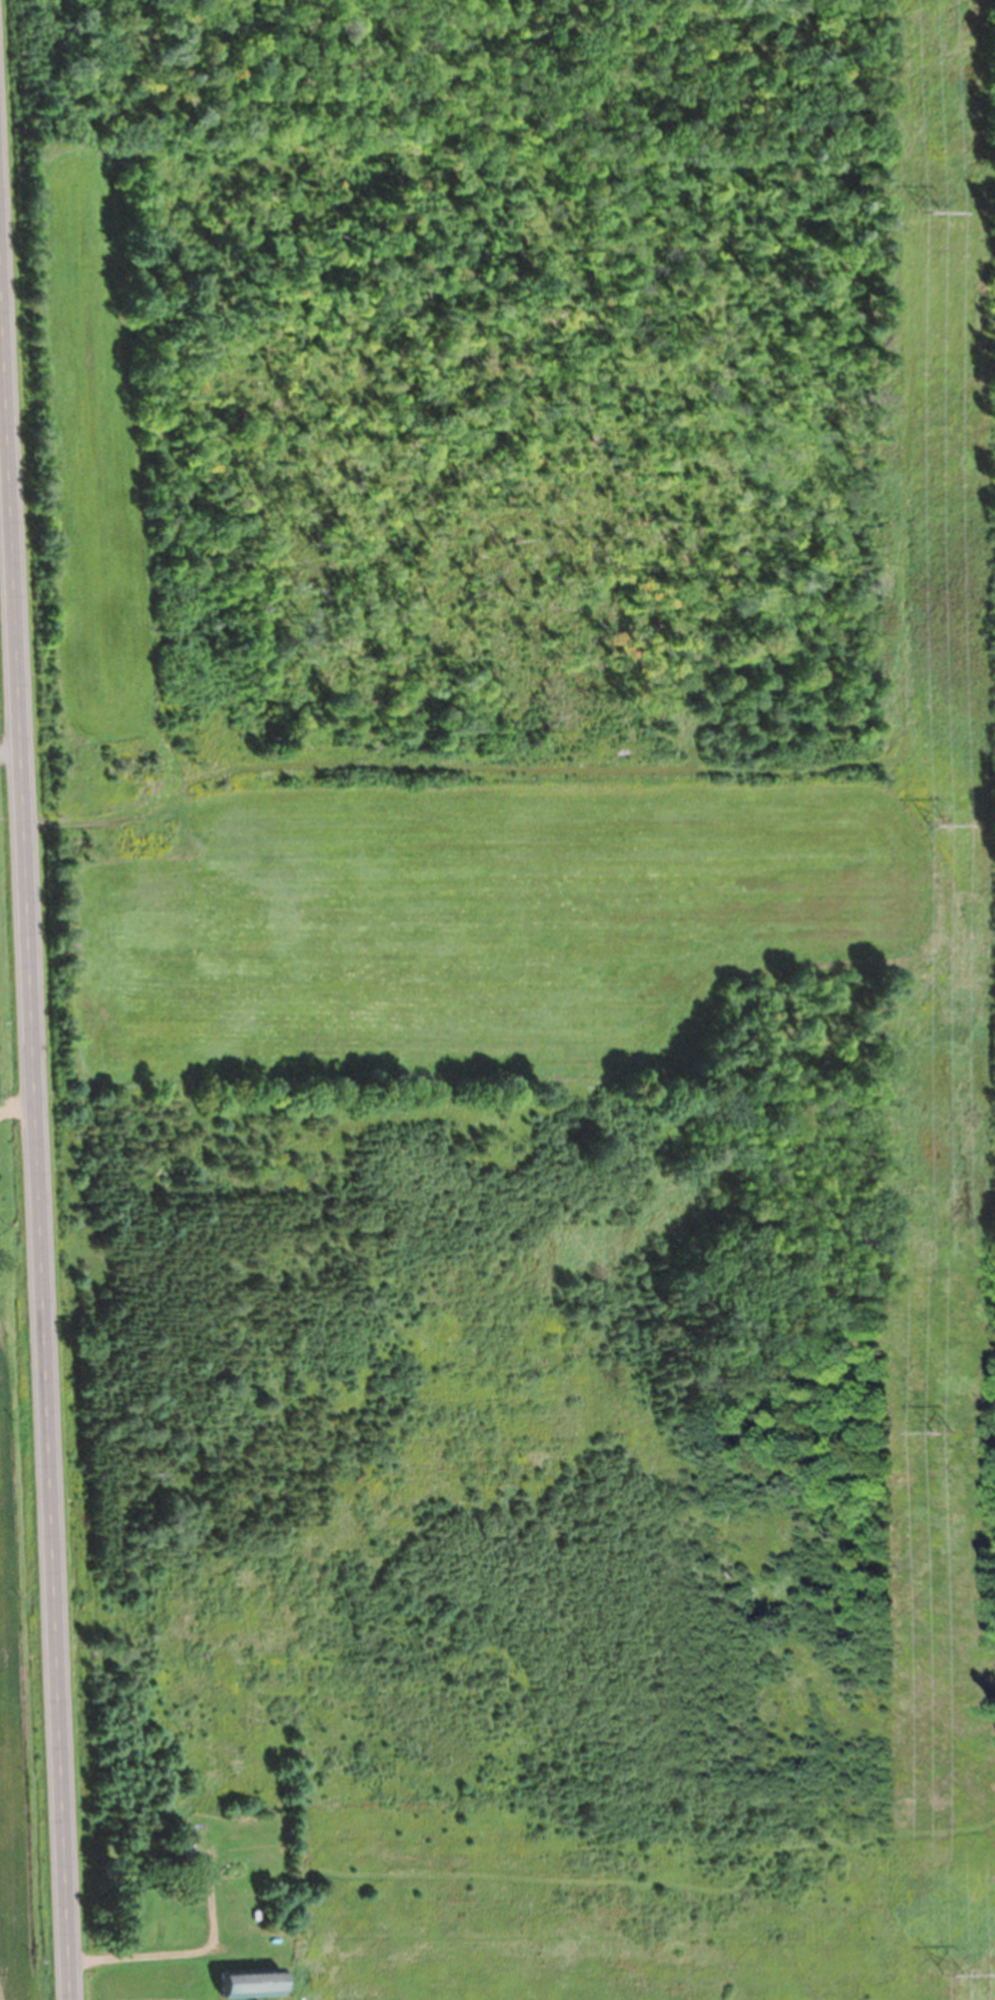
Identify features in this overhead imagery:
power tower: (927, 210)
power tower: (938, 825)
road: (36, 1111)
power tower: (942, 1432)
road: (178, 1945)
power tower: (953, 1975)
building: (256, 1984)

